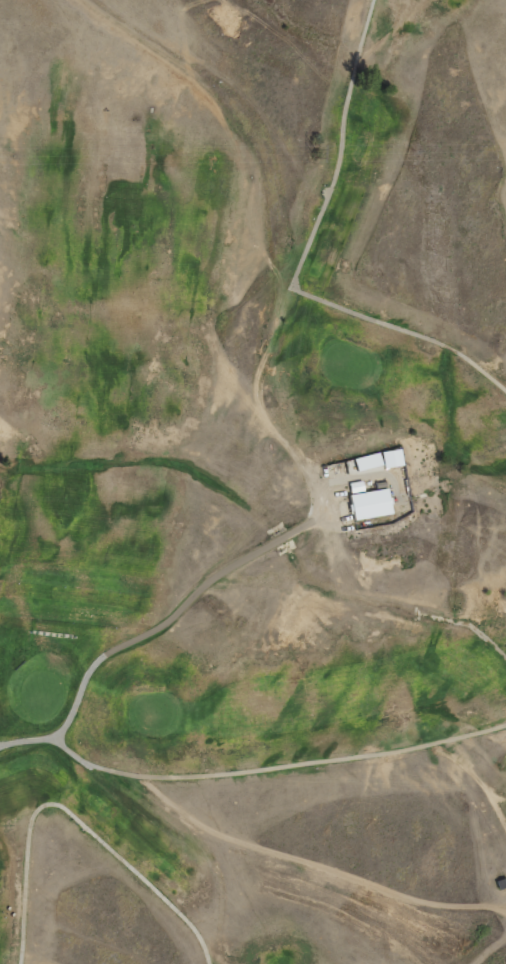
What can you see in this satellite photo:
road: (301, 261)
building: (391, 457)
park: (253, 482)
building: (367, 501)
road: (177, 612)
road: (249, 771)
road: (75, 817)

